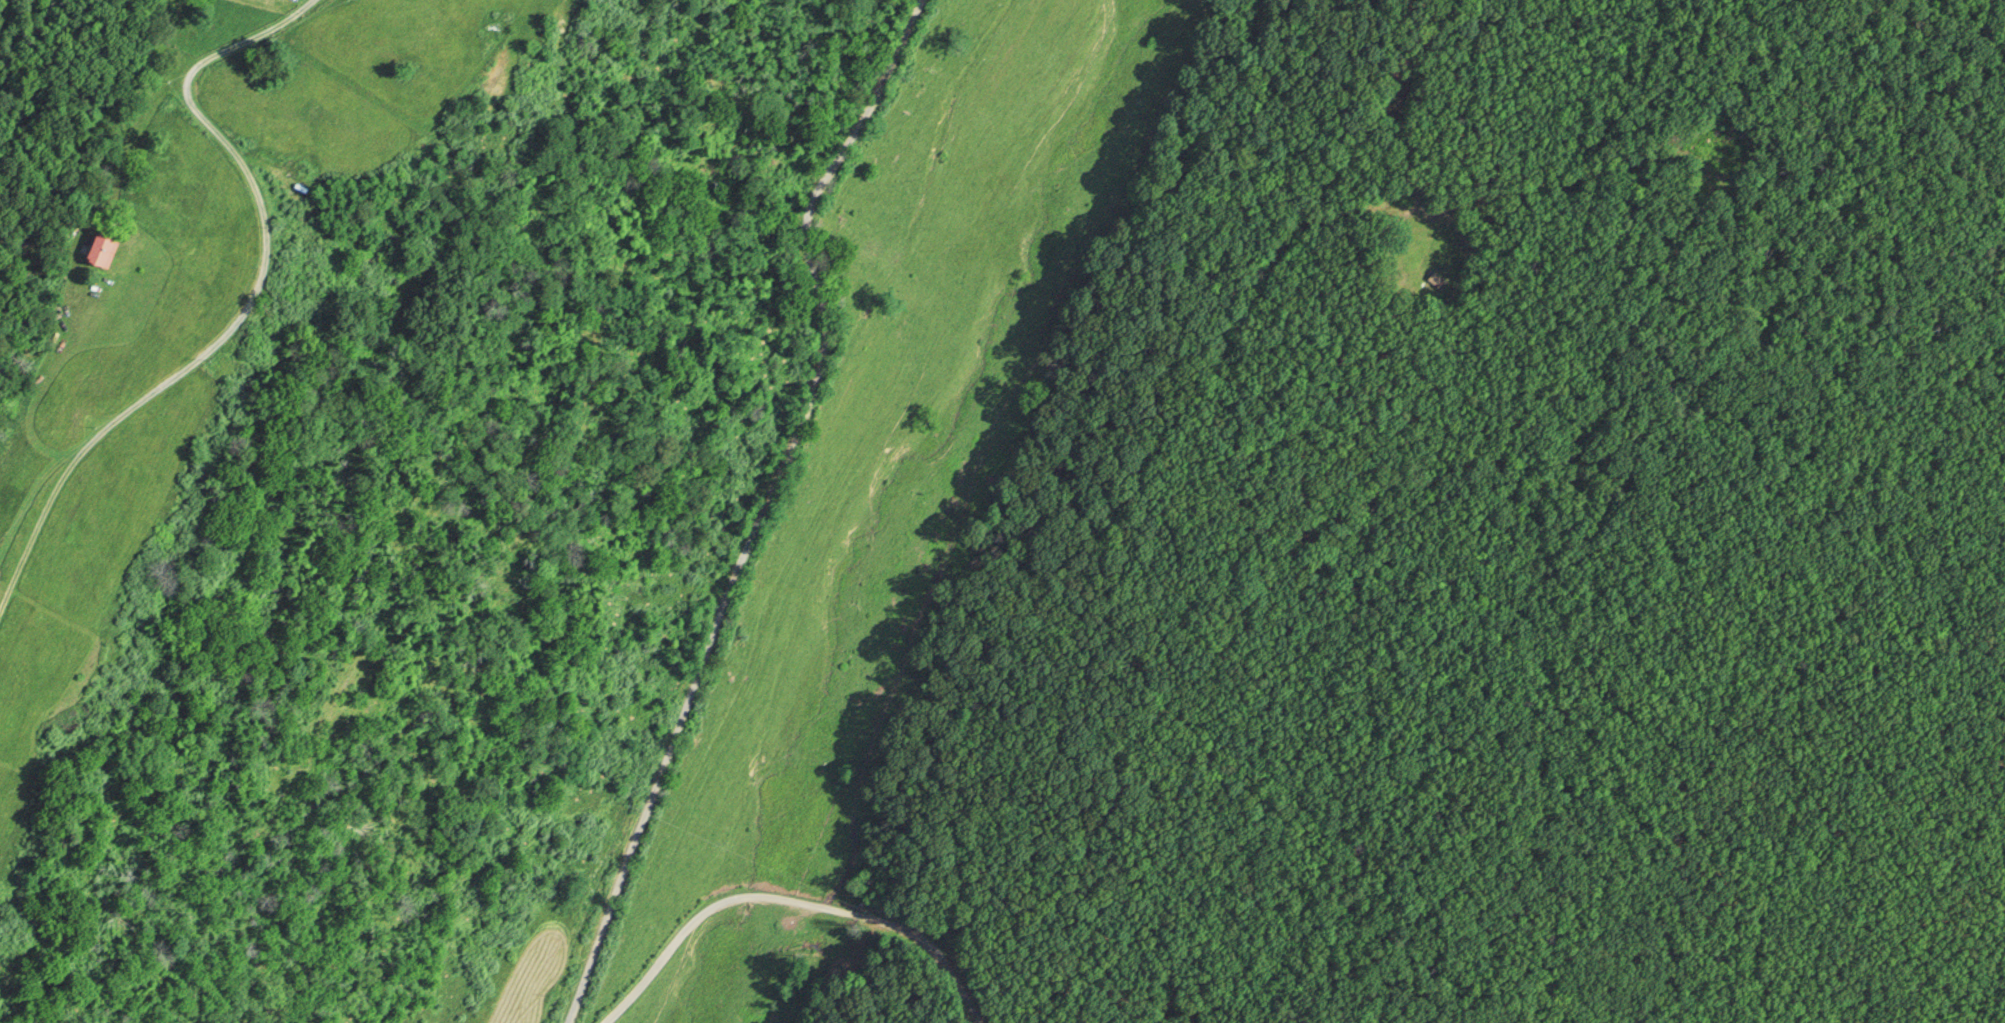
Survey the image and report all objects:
building: (100, 250)
road: (284, 260)
road: (764, 506)
road: (791, 901)

